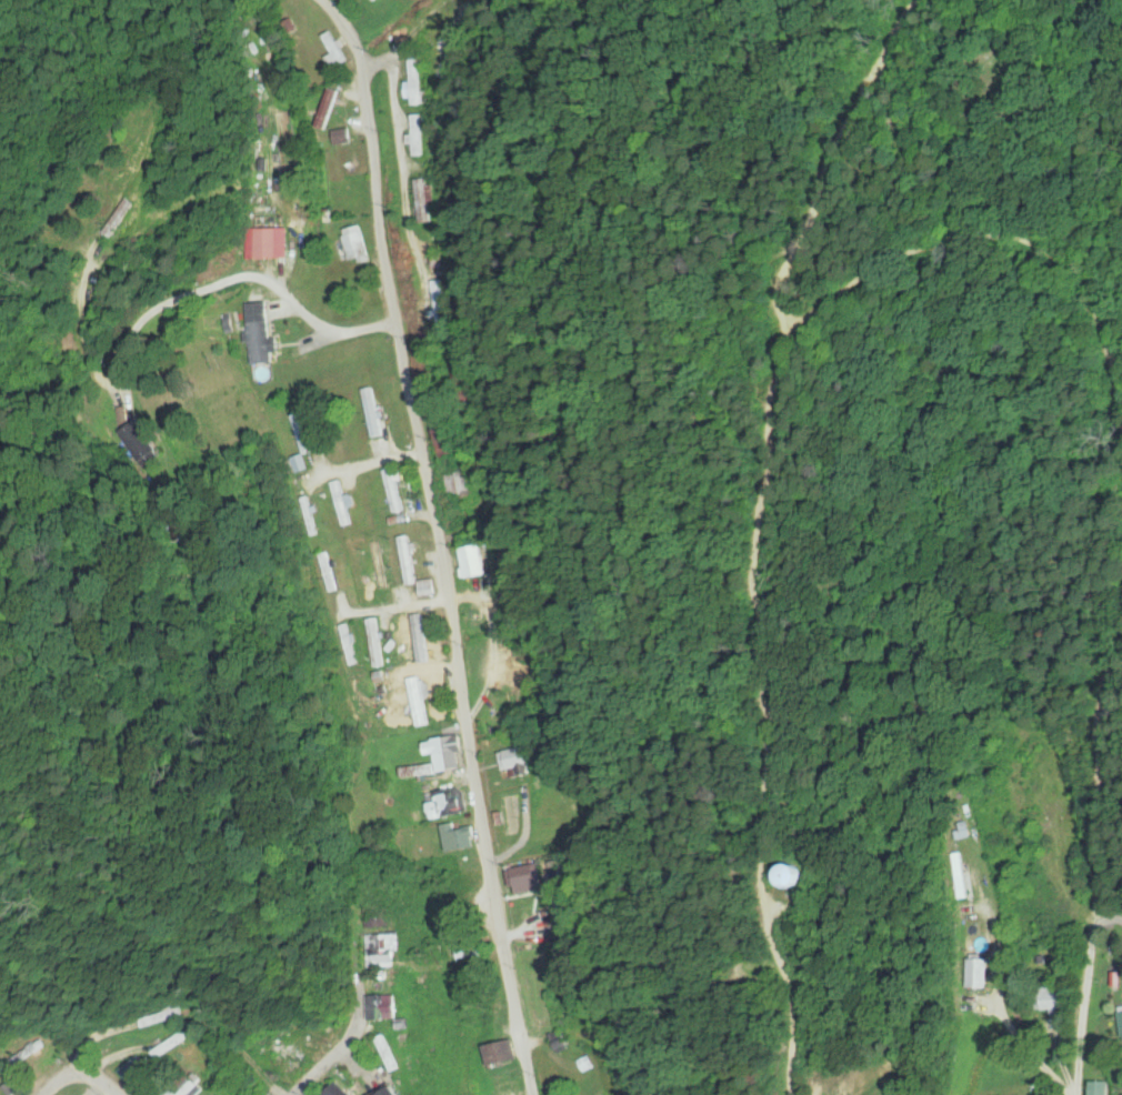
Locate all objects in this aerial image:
road: (391, 41)
road: (433, 545)
road: (352, 831)
water tower: (799, 873)
road: (1088, 926)
building: (469, 950)
building: (382, 951)
building: (384, 1007)
building: (160, 1017)
building: (28, 1054)
building: (390, 1054)
building: (498, 1054)
road: (56, 1078)
road: (93, 1078)
building: (184, 1088)
building: (256, 1088)
building: (342, 1091)
building: (503, 1091)
building: (397, 1092)

